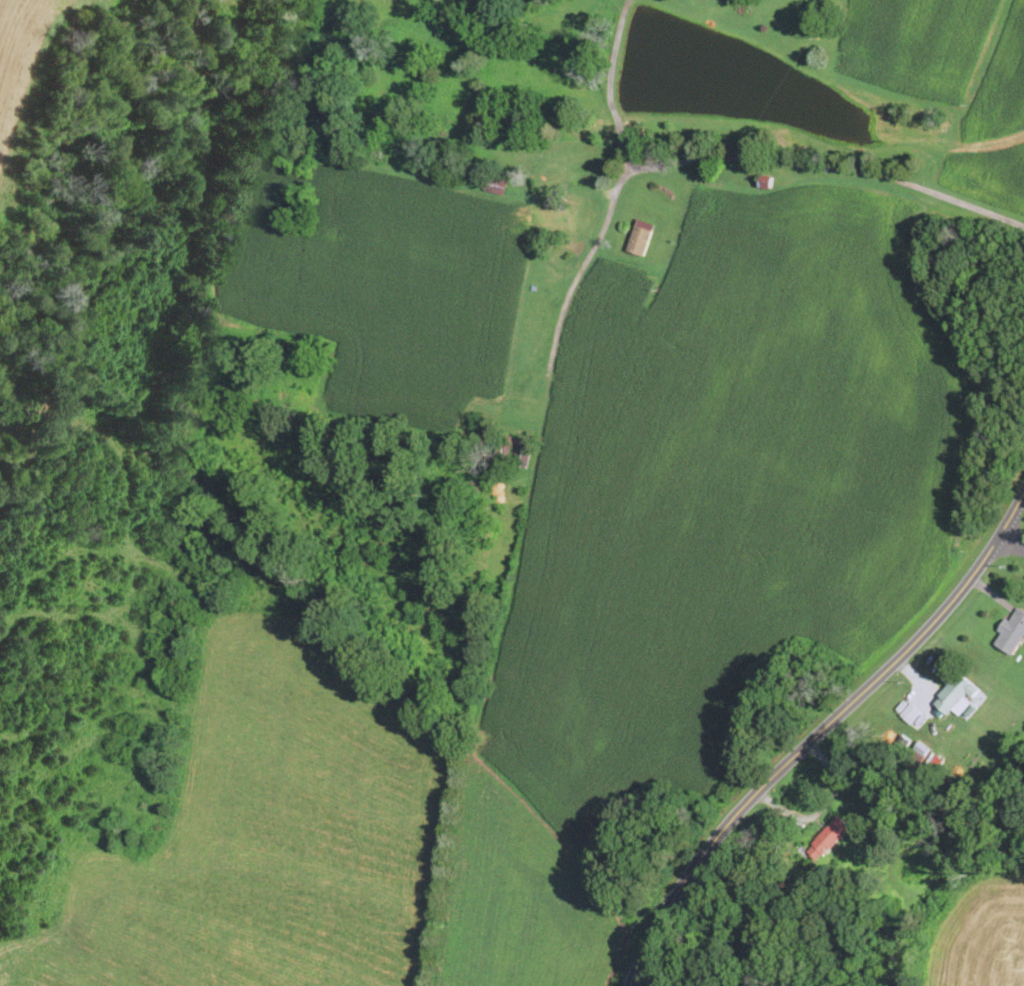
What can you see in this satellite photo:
road: (608, 86)
building: (608, 131)
building: (537, 156)
road: (815, 169)
building: (496, 184)
building: (640, 237)
road: (569, 293)
building: (521, 456)
building: (581, 461)
road: (1012, 548)
building: (1011, 633)
building: (956, 695)
road: (814, 733)
building: (826, 837)

